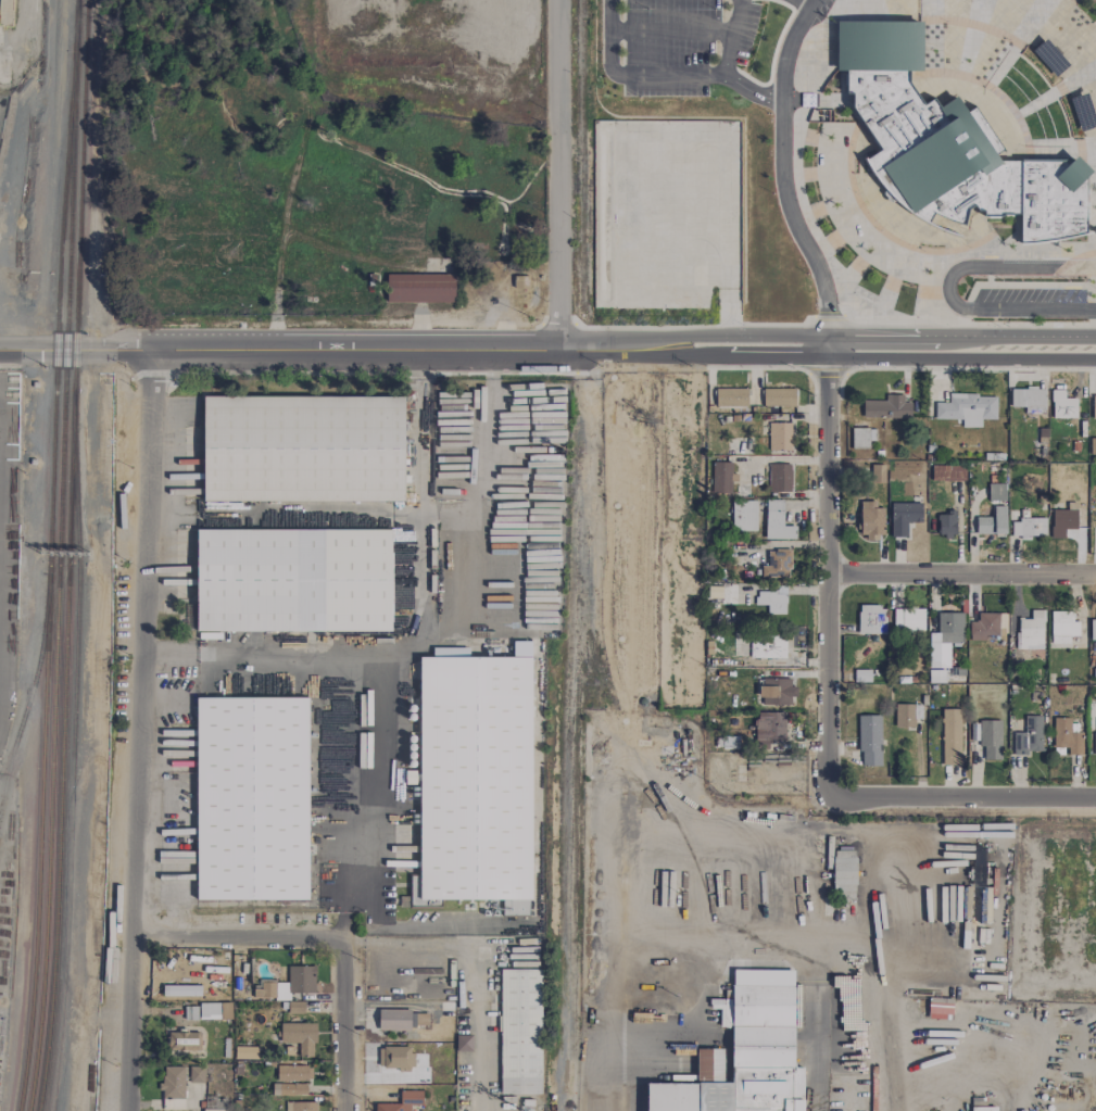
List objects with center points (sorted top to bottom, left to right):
road: (802, 4)
road: (732, 24)
road: (727, 63)
road: (663, 76)
building: (947, 143)
railway: (578, 153)
road: (779, 169)
road: (555, 175)
railway: (79, 201)
road: (946, 286)
building: (419, 288)
road: (868, 338)
road: (7, 343)
road: (322, 351)
road: (868, 362)
road: (426, 364)
road: (492, 365)
railway: (56, 379)
railway: (66, 380)
building: (730, 397)
building: (778, 397)
building: (1029, 400)
building: (1062, 405)
building: (886, 407)
building: (1094, 407)
building: (967, 409)
building: (779, 435)
building: (860, 438)
building: (303, 449)
building: (947, 472)
building: (720, 477)
building: (779, 477)
building: (996, 492)
road: (593, 507)
building: (743, 516)
building: (903, 517)
building: (870, 521)
building: (777, 522)
building: (992, 522)
building: (1062, 522)
building: (945, 525)
road: (483, 526)
building: (1028, 528)
building: (777, 565)
road: (828, 569)
road: (962, 577)
building: (293, 580)
railway: (67, 582)
building: (772, 601)
building: (871, 620)
building: (908, 620)
building: (984, 627)
building: (1062, 628)
building: (1093, 630)
building: (1030, 631)
building: (944, 639)
building: (767, 647)
road: (402, 653)
road: (169, 656)
road: (295, 657)
building: (776, 692)
railway: (32, 702)
building: (904, 716)
building: (768, 727)
road: (139, 730)
building: (950, 736)
building: (1029, 736)
building: (1067, 736)
building: (1095, 736)
building: (990, 738)
building: (869, 741)
railway: (570, 748)
railway: (73, 757)
building: (474, 781)
building: (252, 798)
road: (963, 800)
building: (843, 871)
road: (342, 921)
road: (441, 929)
road: (236, 931)
railway: (37, 935)
railway: (46, 936)
railway: (53, 936)
road: (715, 954)
building: (300, 980)
building: (270, 990)
road: (890, 993)
building: (210, 1011)
building: (393, 1020)
road: (342, 1022)
building: (519, 1032)
building: (299, 1037)
building: (182, 1040)
building: (463, 1043)
building: (745, 1052)
building: (245, 1053)
building: (394, 1058)
road: (476, 1066)
road: (963, 1071)
building: (293, 1073)
building: (196, 1074)
building: (172, 1088)
building: (289, 1089)
building: (402, 1101)
building: (300, 1106)
building: (203, 1110)
building: (300, 1110)
building: (391, 1110)
building: (725, 1110)
building: (982, 1110)

